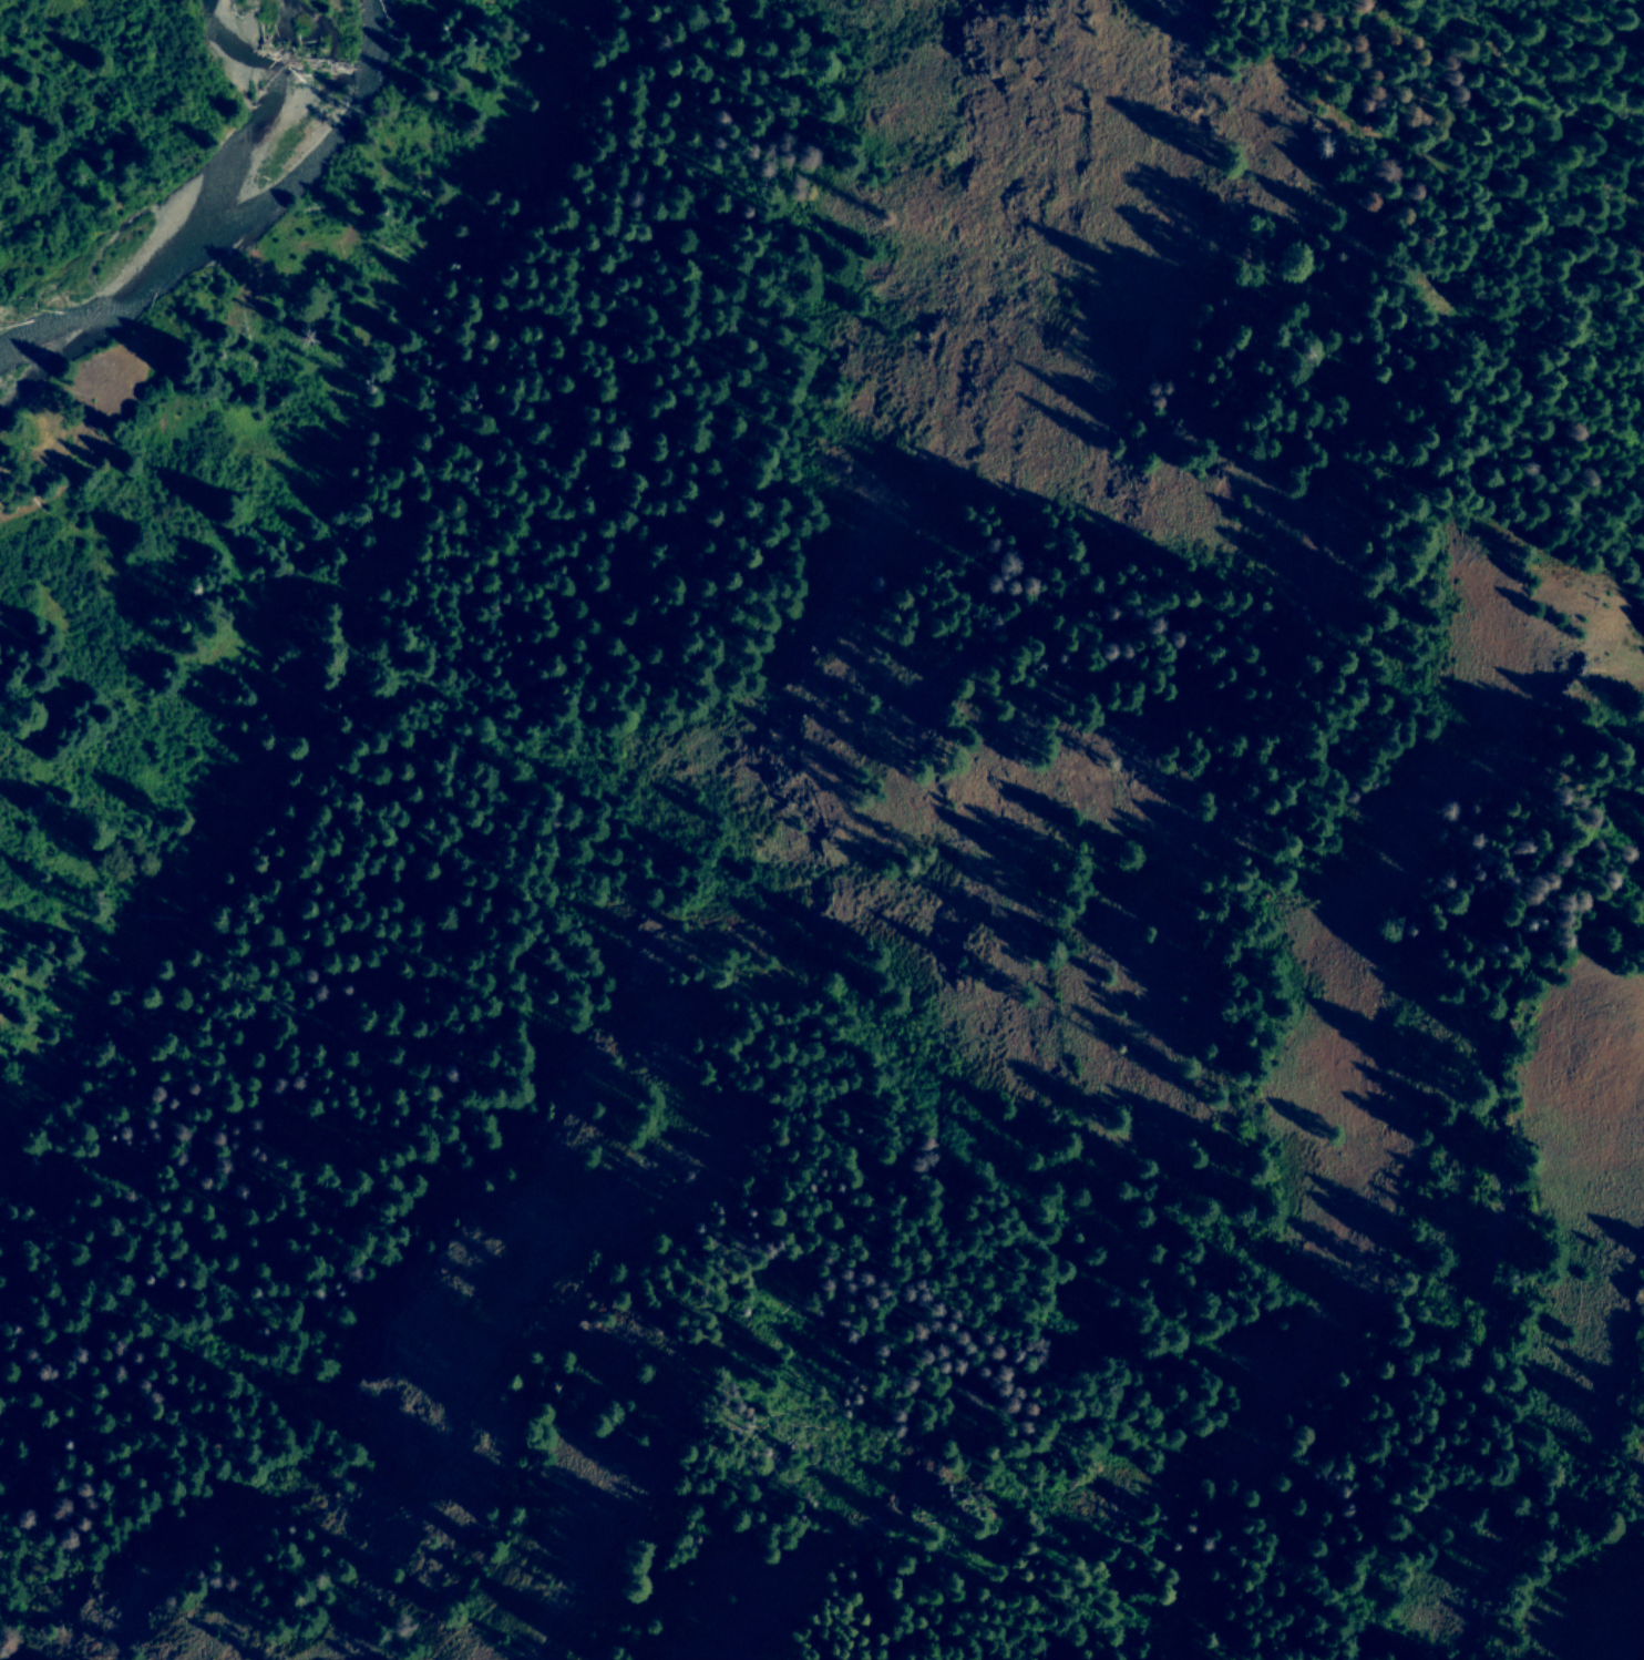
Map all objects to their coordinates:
river: (230, 273)

